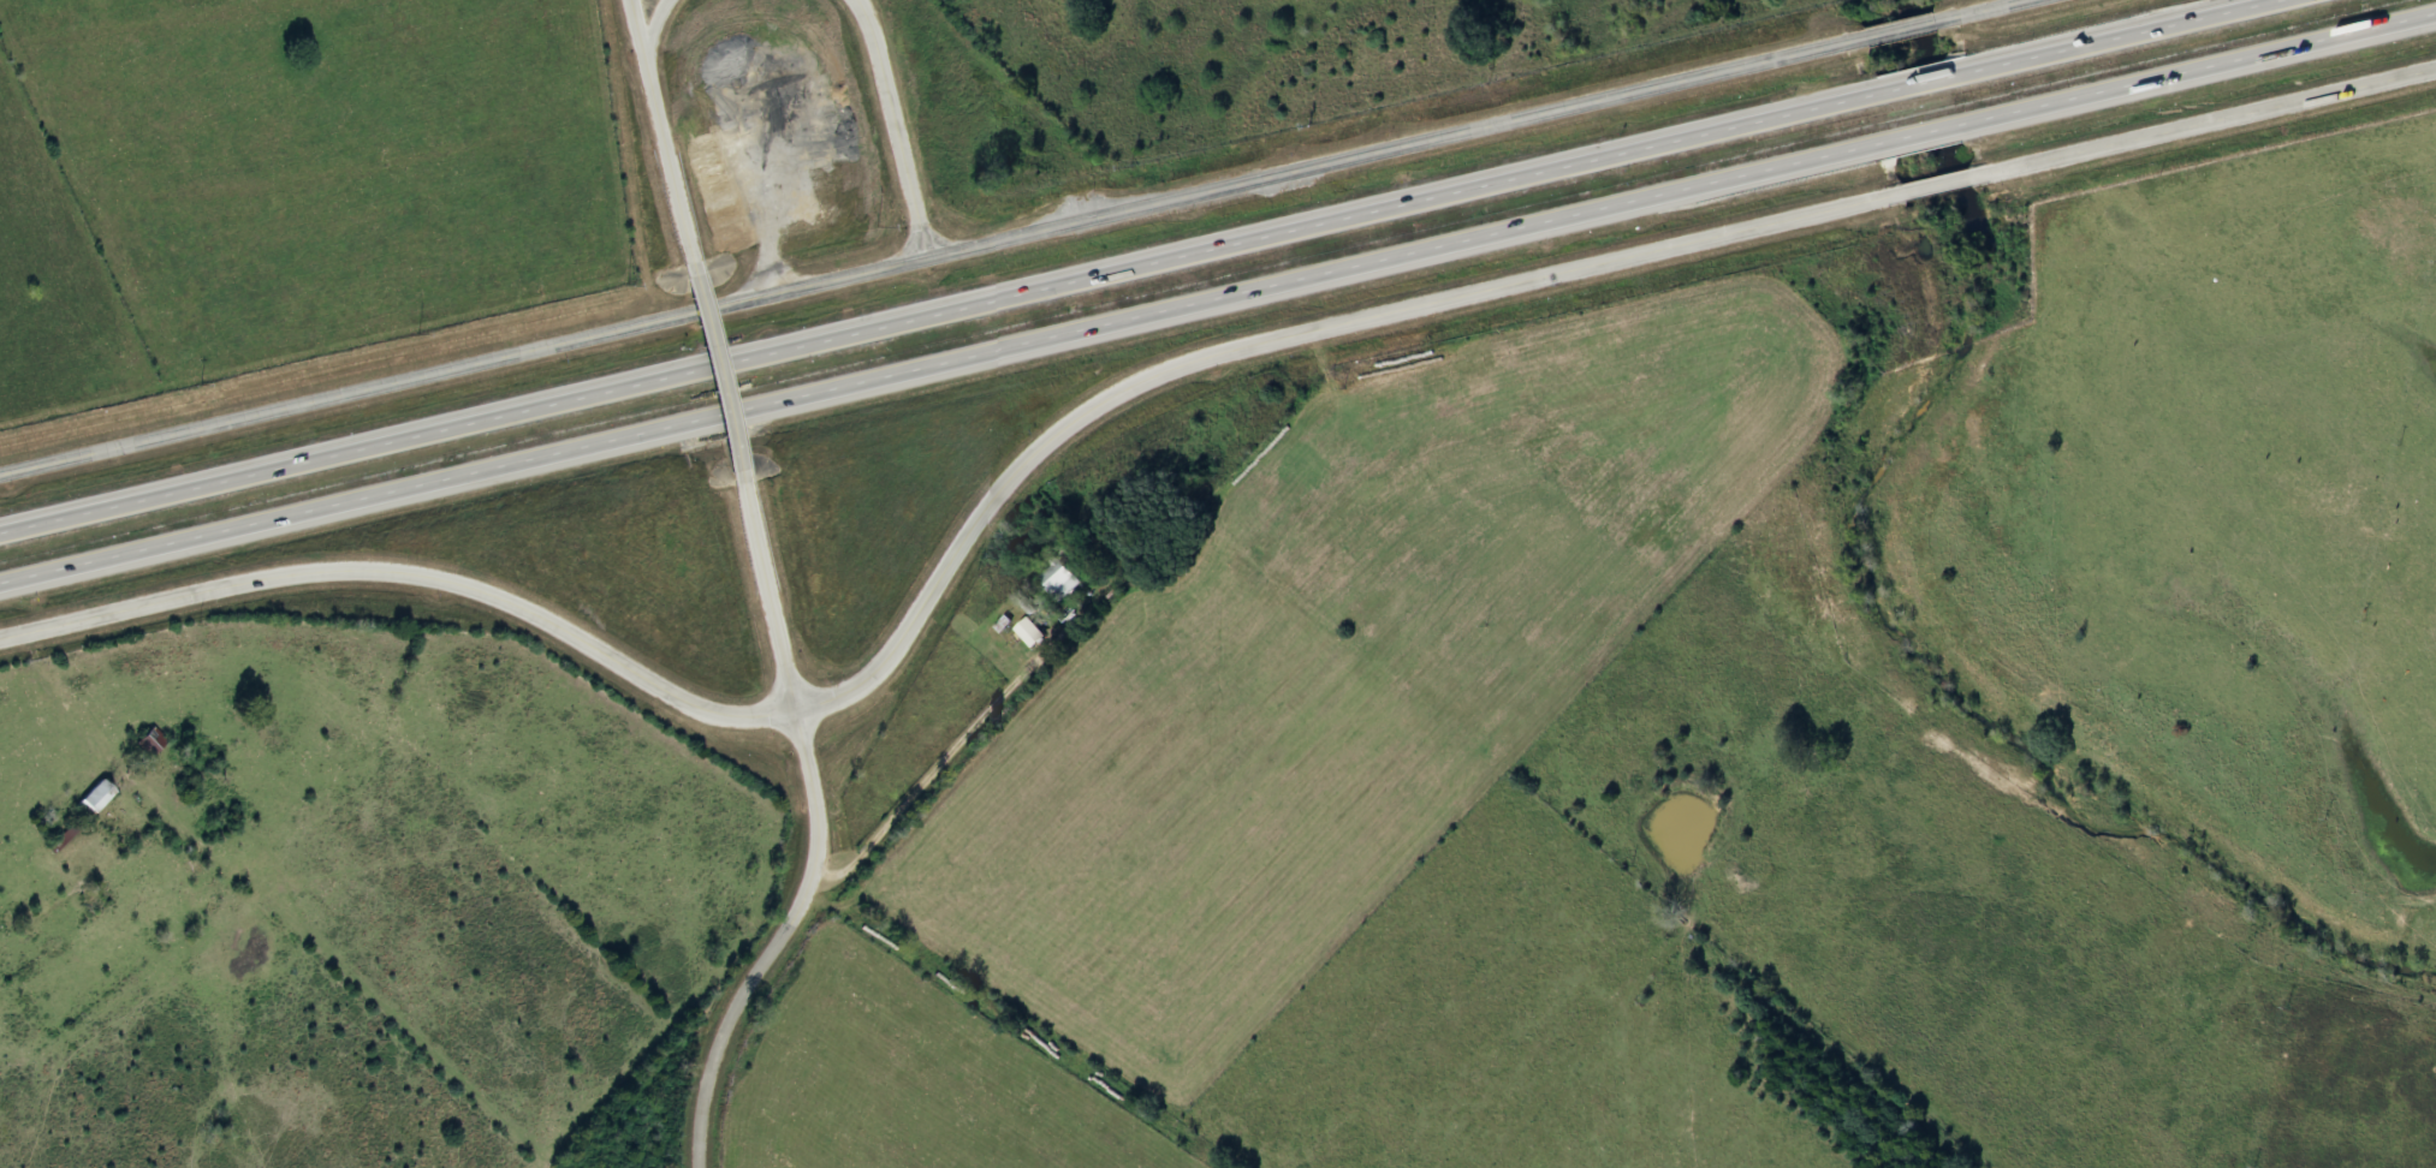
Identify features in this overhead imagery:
road: (1979, 10)
road: (650, 25)
road: (1901, 29)
road: (2211, 119)
road: (897, 124)
road: (660, 130)
road: (1936, 183)
road: (933, 251)
road: (1139, 266)
road: (1218, 299)
road: (714, 371)
road: (943, 570)
building: (1059, 579)
road: (767, 595)
building: (150, 741)
road: (938, 768)
building: (94, 798)
road: (778, 942)

